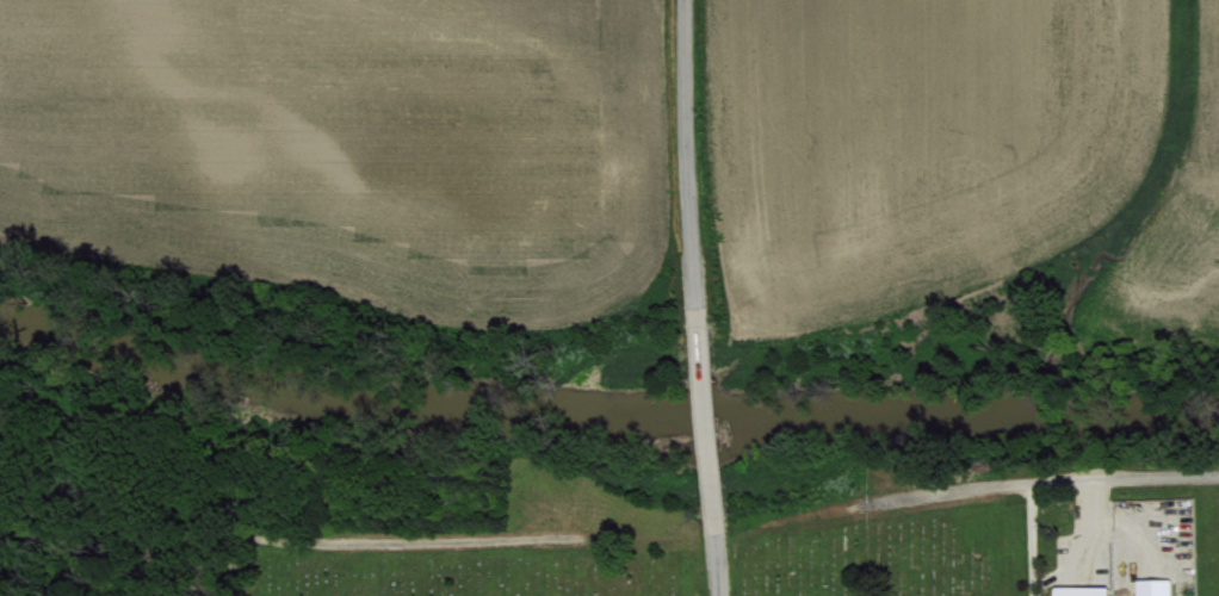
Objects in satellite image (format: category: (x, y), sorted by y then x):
road: (695, 298)
road: (1034, 482)
road: (281, 538)
road: (1026, 539)
park: (697, 563)
road: (235, 567)
building: (1155, 586)
building: (1081, 591)

